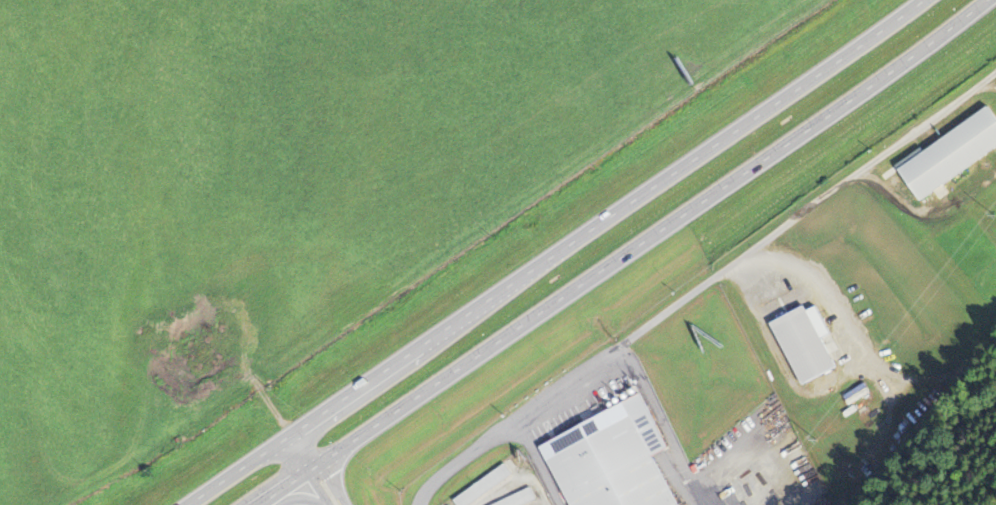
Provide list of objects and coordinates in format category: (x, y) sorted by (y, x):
building: (954, 156)
road: (551, 252)
road: (622, 255)
building: (809, 344)
power tower: (817, 439)
building: (615, 460)
road: (316, 467)
building: (487, 488)
building: (523, 499)

